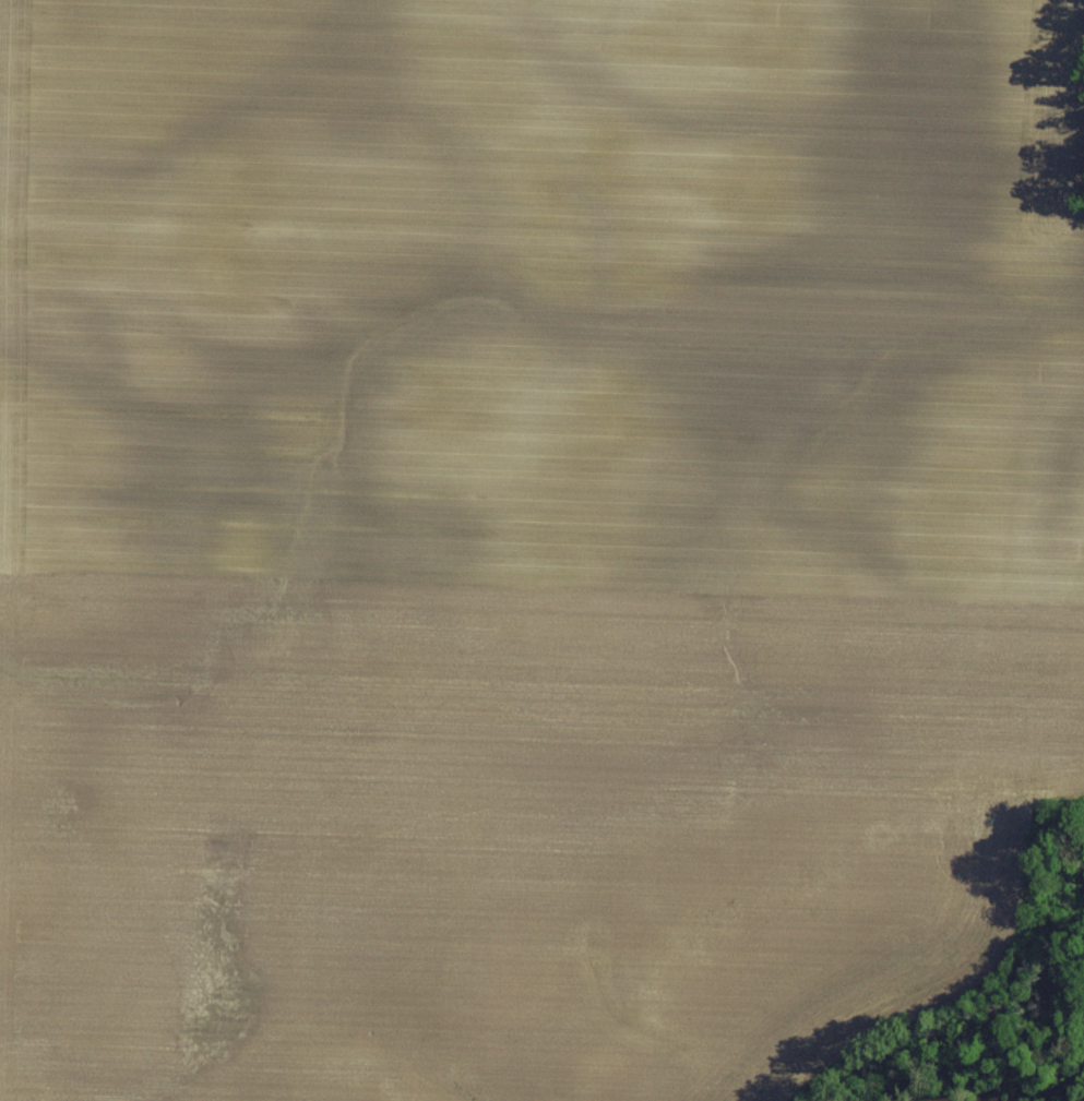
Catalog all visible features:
river: (1052, 1077)

